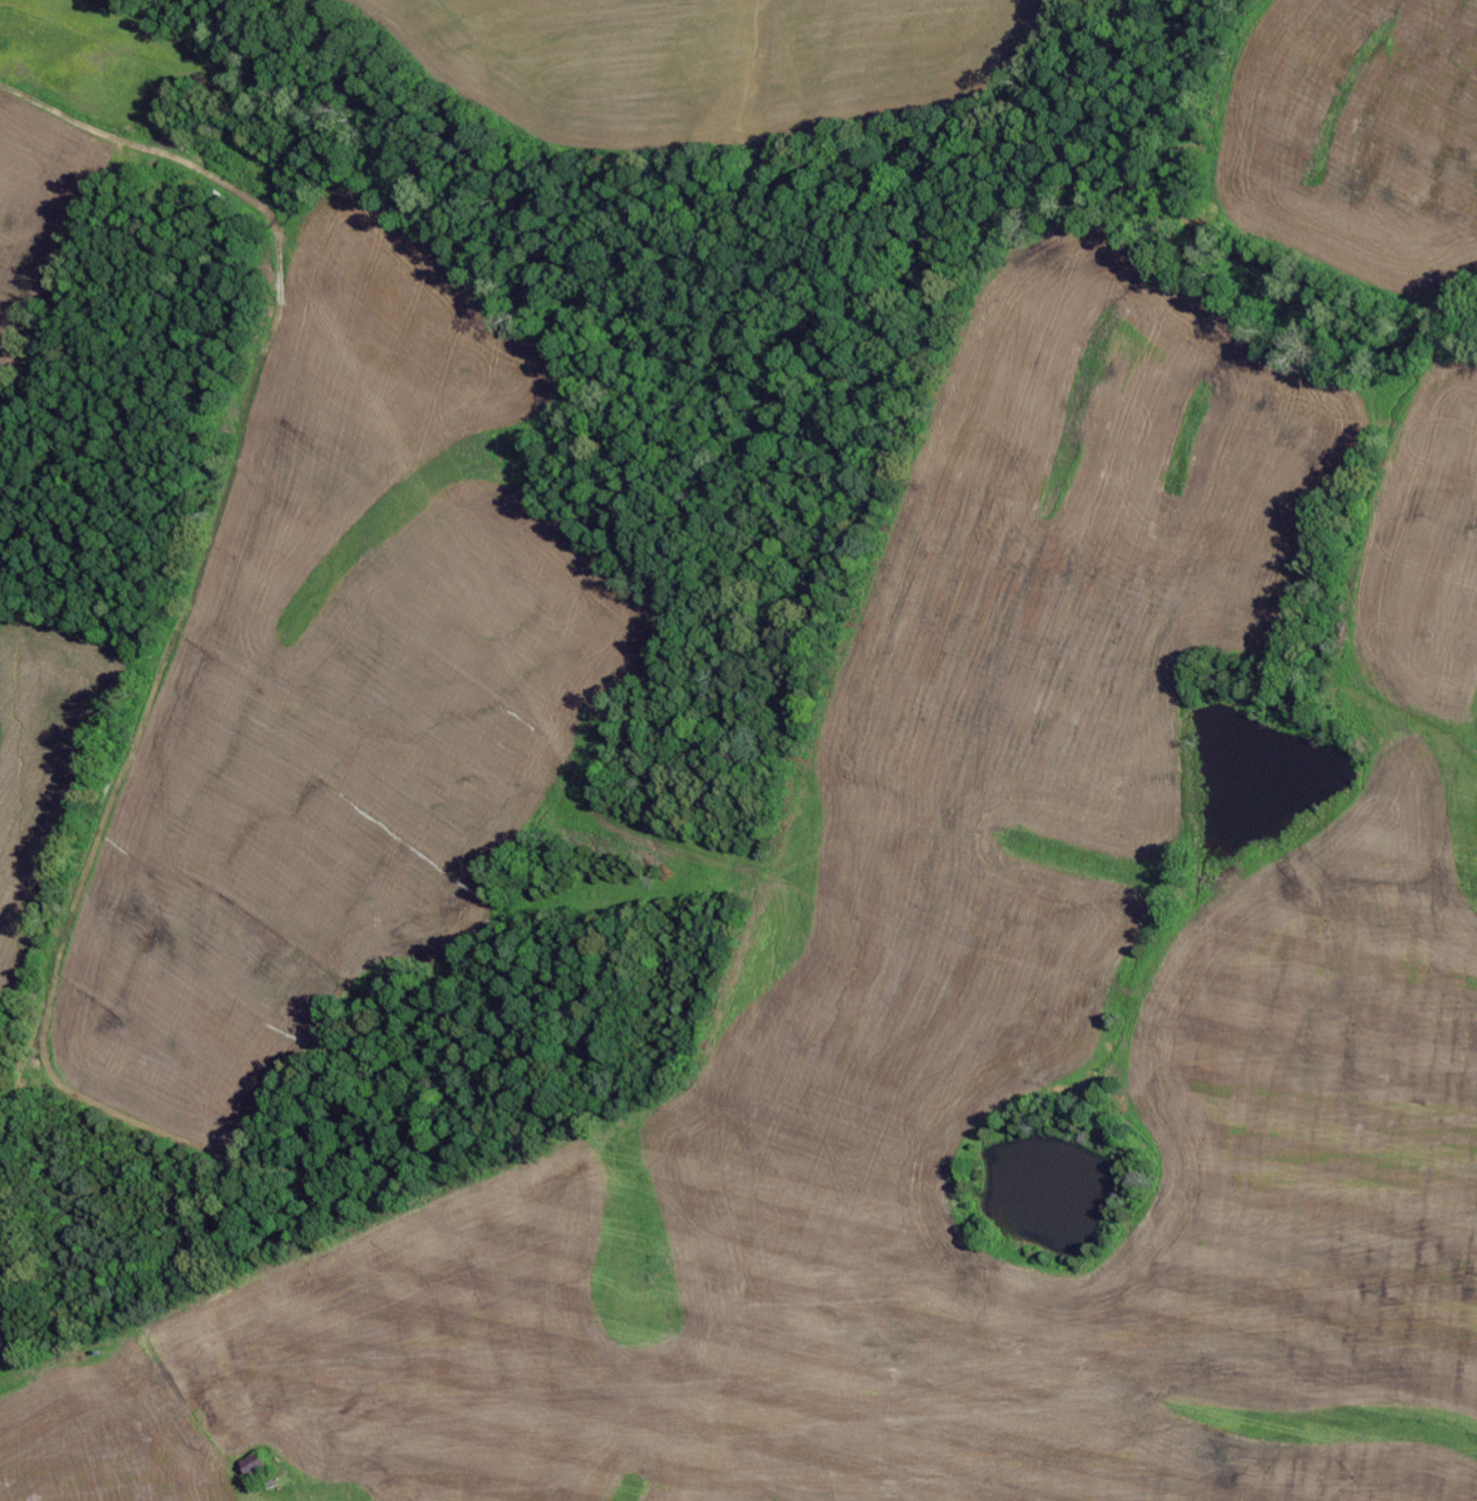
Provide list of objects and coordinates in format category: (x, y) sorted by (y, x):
building: (260, 1465)

